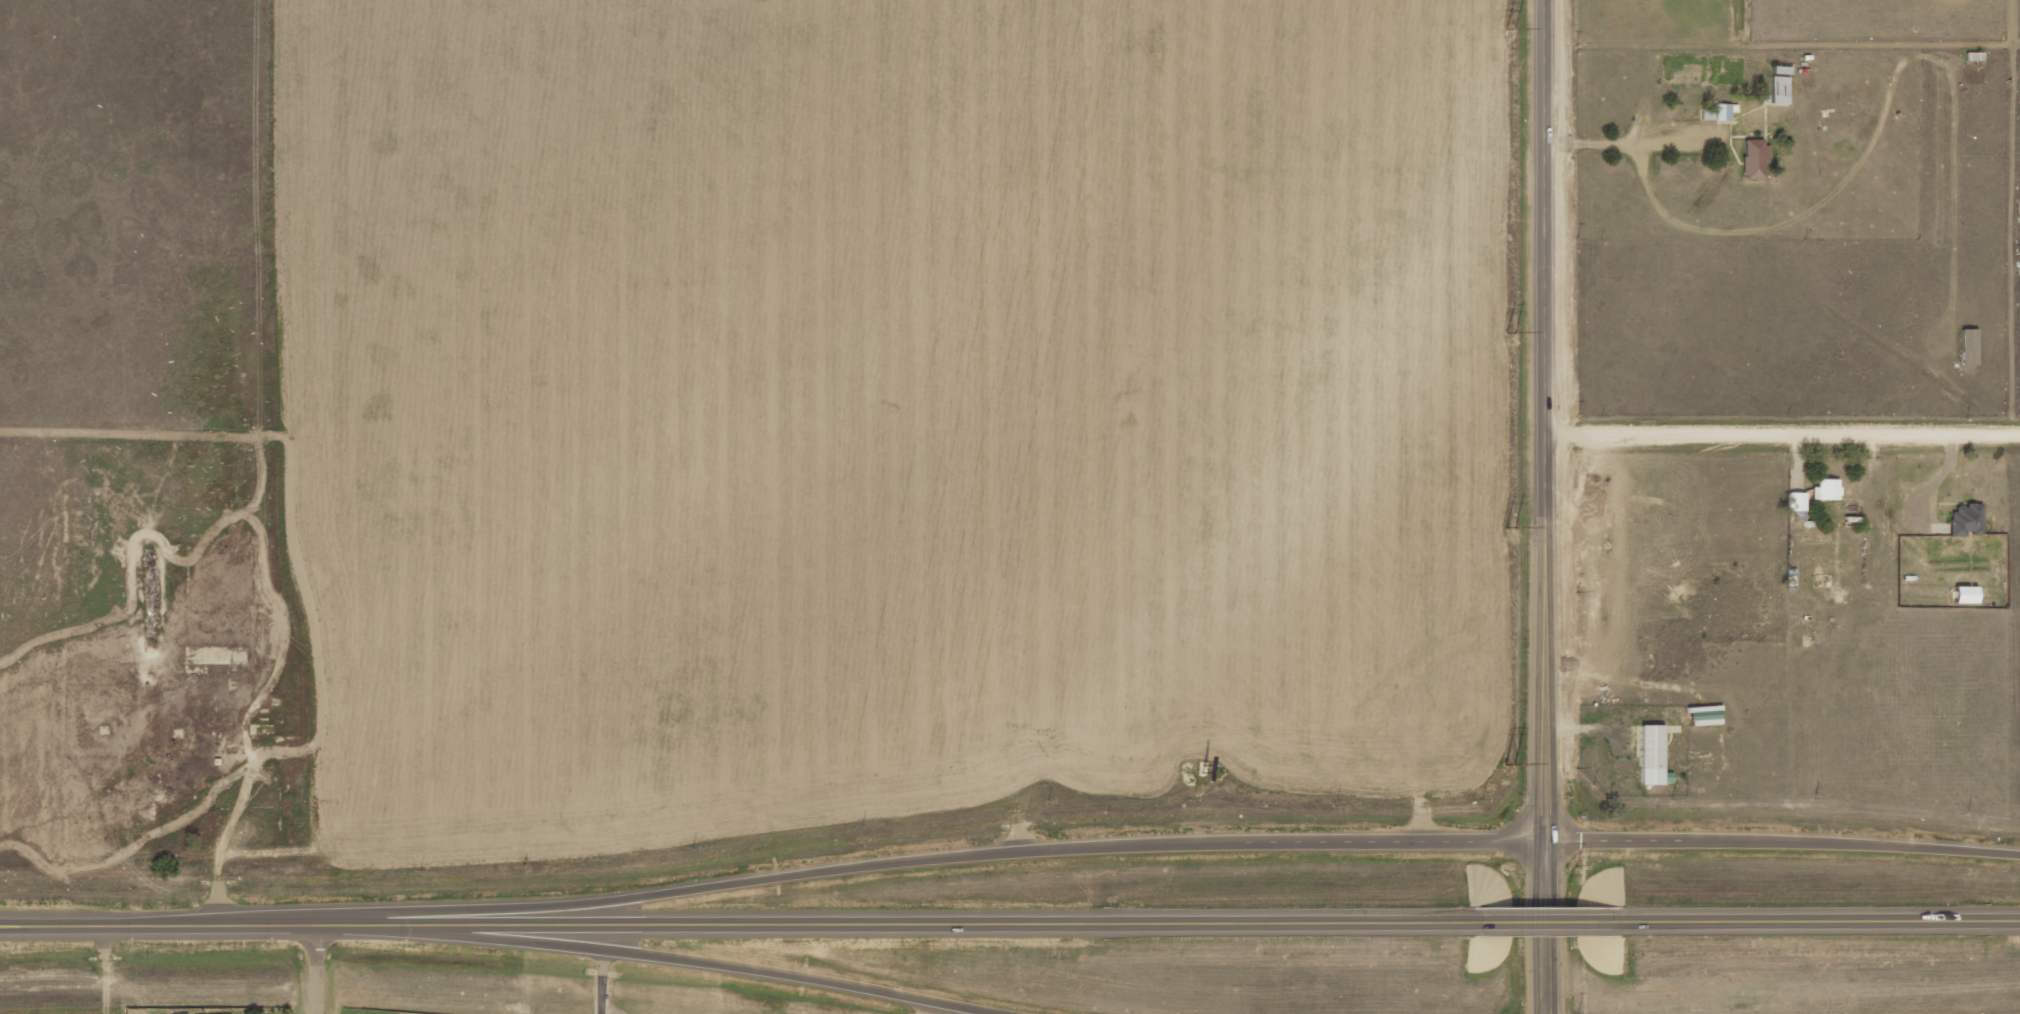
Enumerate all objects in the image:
road: (2017, 44)
building: (1776, 93)
building: (1707, 112)
building: (1722, 113)
building: (1753, 159)
power tower: (1508, 228)
building: (1968, 348)
road: (1783, 439)
building: (1825, 491)
building: (1796, 505)
road: (1546, 507)
building: (1964, 521)
power tower: (1509, 547)
building: (1964, 596)
building: (1704, 716)
building: (1652, 756)
road: (1782, 844)
road: (971, 859)
power tower: (1511, 867)
road: (1820, 924)
road: (1543, 925)
road: (175, 927)
road: (377, 928)
road: (934, 928)
road: (669, 961)
road: (319, 971)

